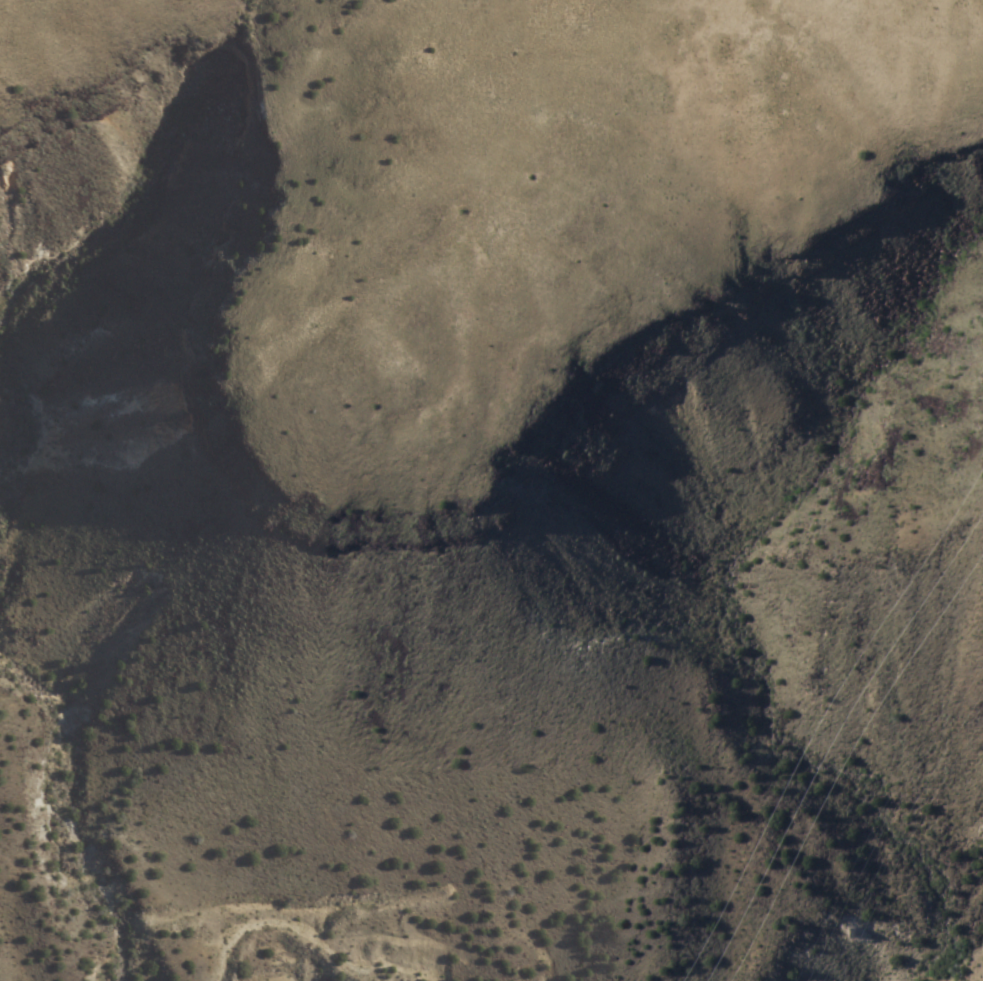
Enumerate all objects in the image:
road: (969, 6)

